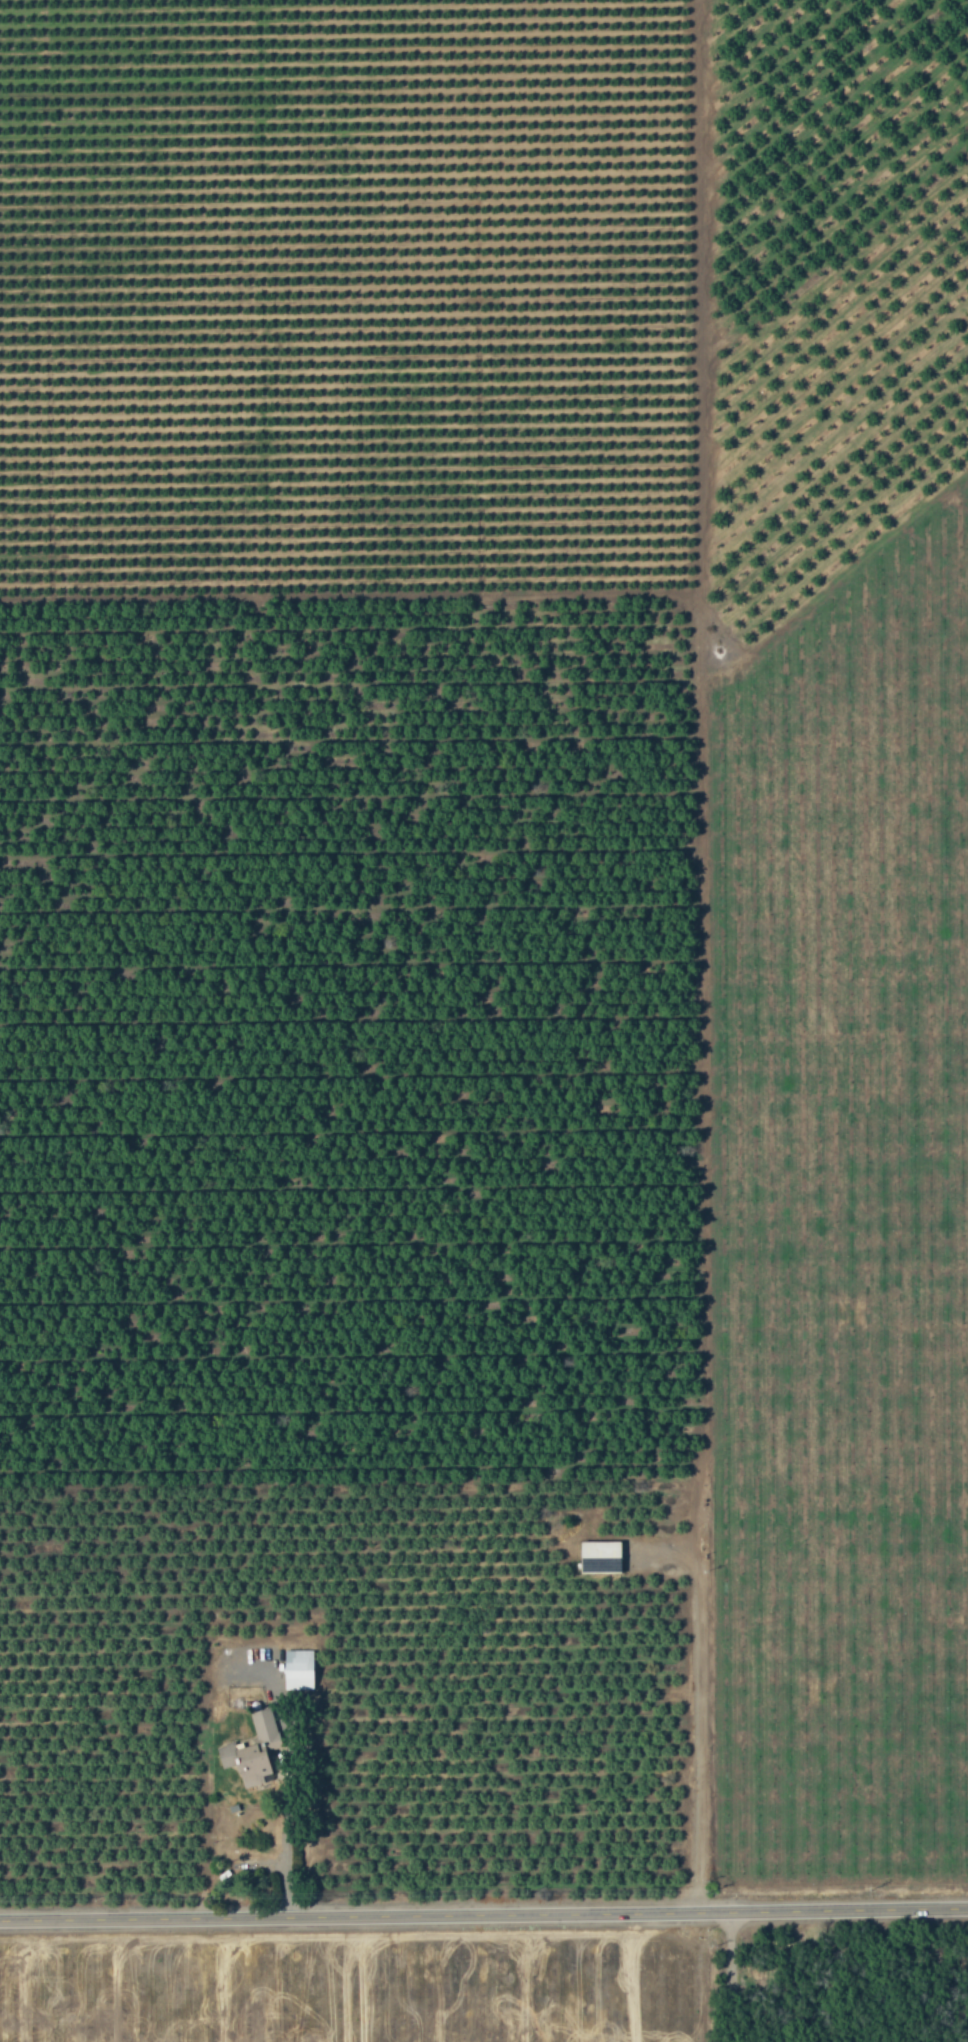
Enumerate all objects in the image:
building: (596, 1552)
building: (299, 1669)
building: (253, 1749)
road: (286, 1811)
road: (484, 1910)

